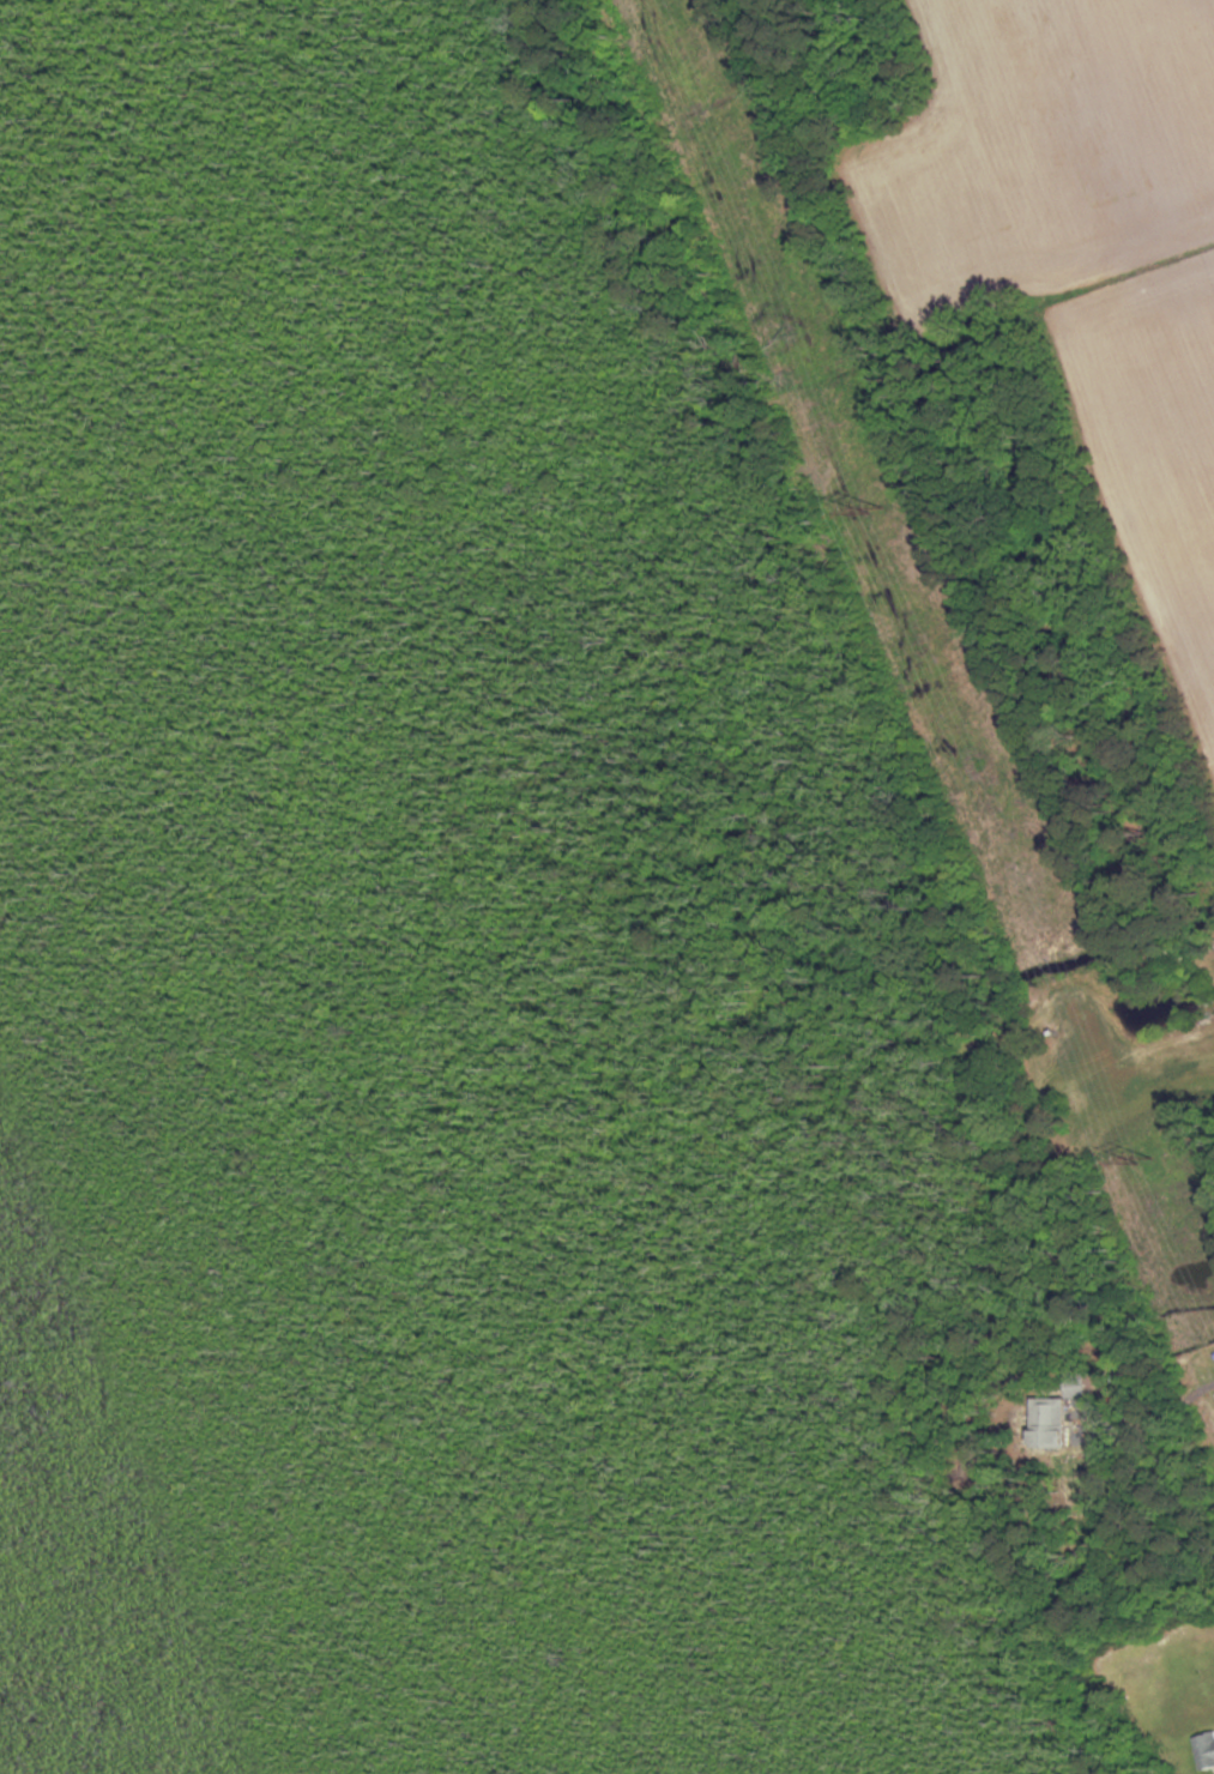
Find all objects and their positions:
power tower: (876, 509)
power tower: (1146, 1163)
building: (1206, 1748)

